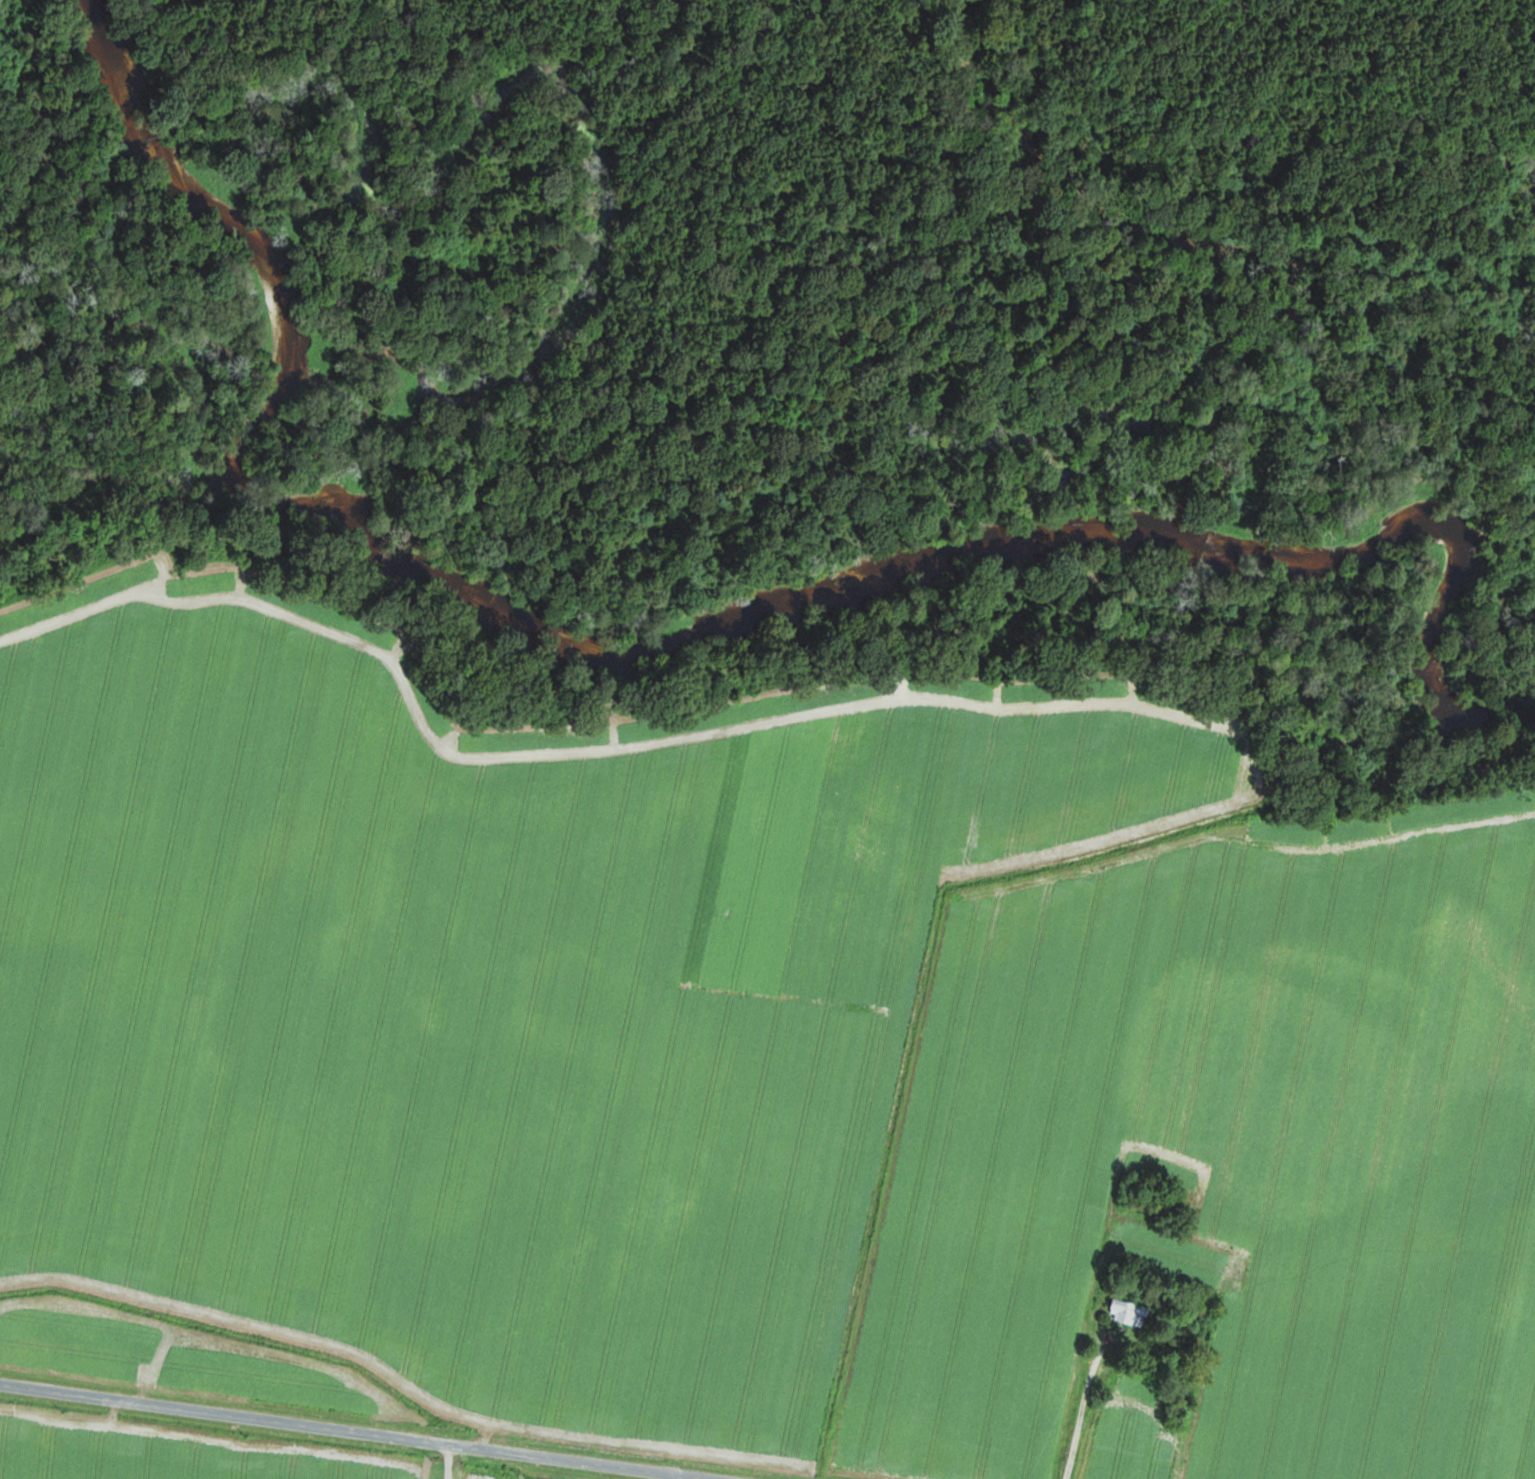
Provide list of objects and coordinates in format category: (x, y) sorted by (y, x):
river: (435, 545)
building: (1132, 1313)
road: (353, 1431)

